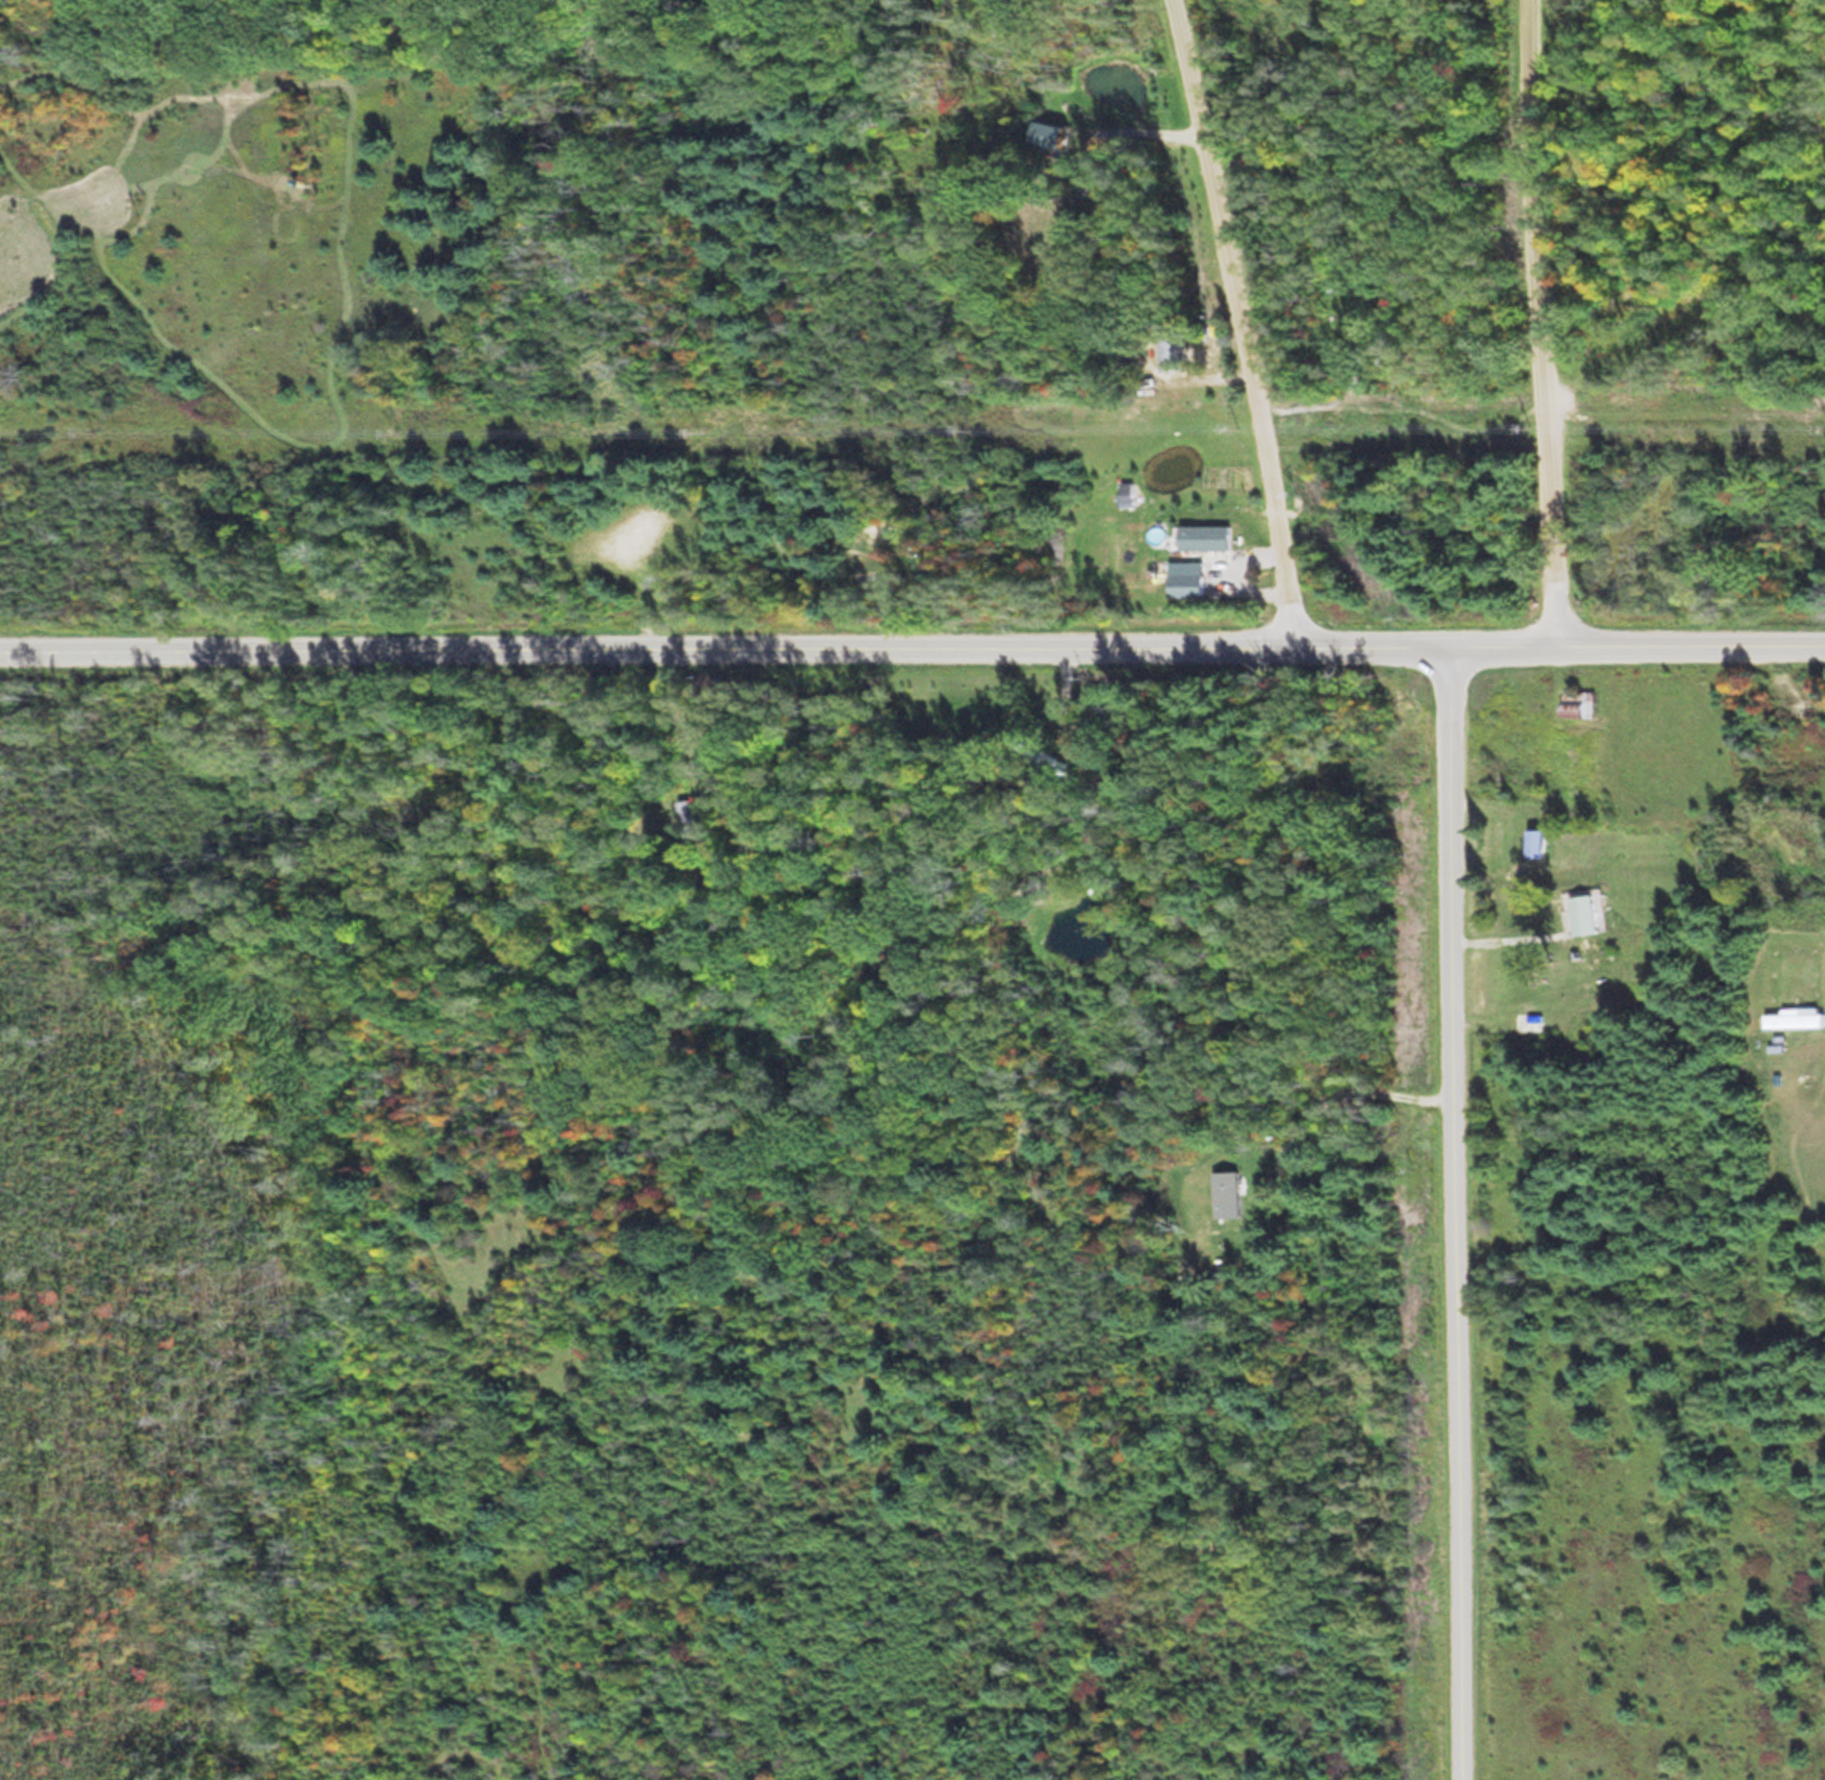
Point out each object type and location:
building: (1053, 132)
road: (1251, 317)
road: (1547, 320)
building: (1176, 353)
building: (1127, 494)
building: (1203, 537)
road: (912, 641)
building: (1577, 702)
building: (1587, 915)
building: (1795, 1018)
building: (1529, 1021)
road: (1467, 1210)

